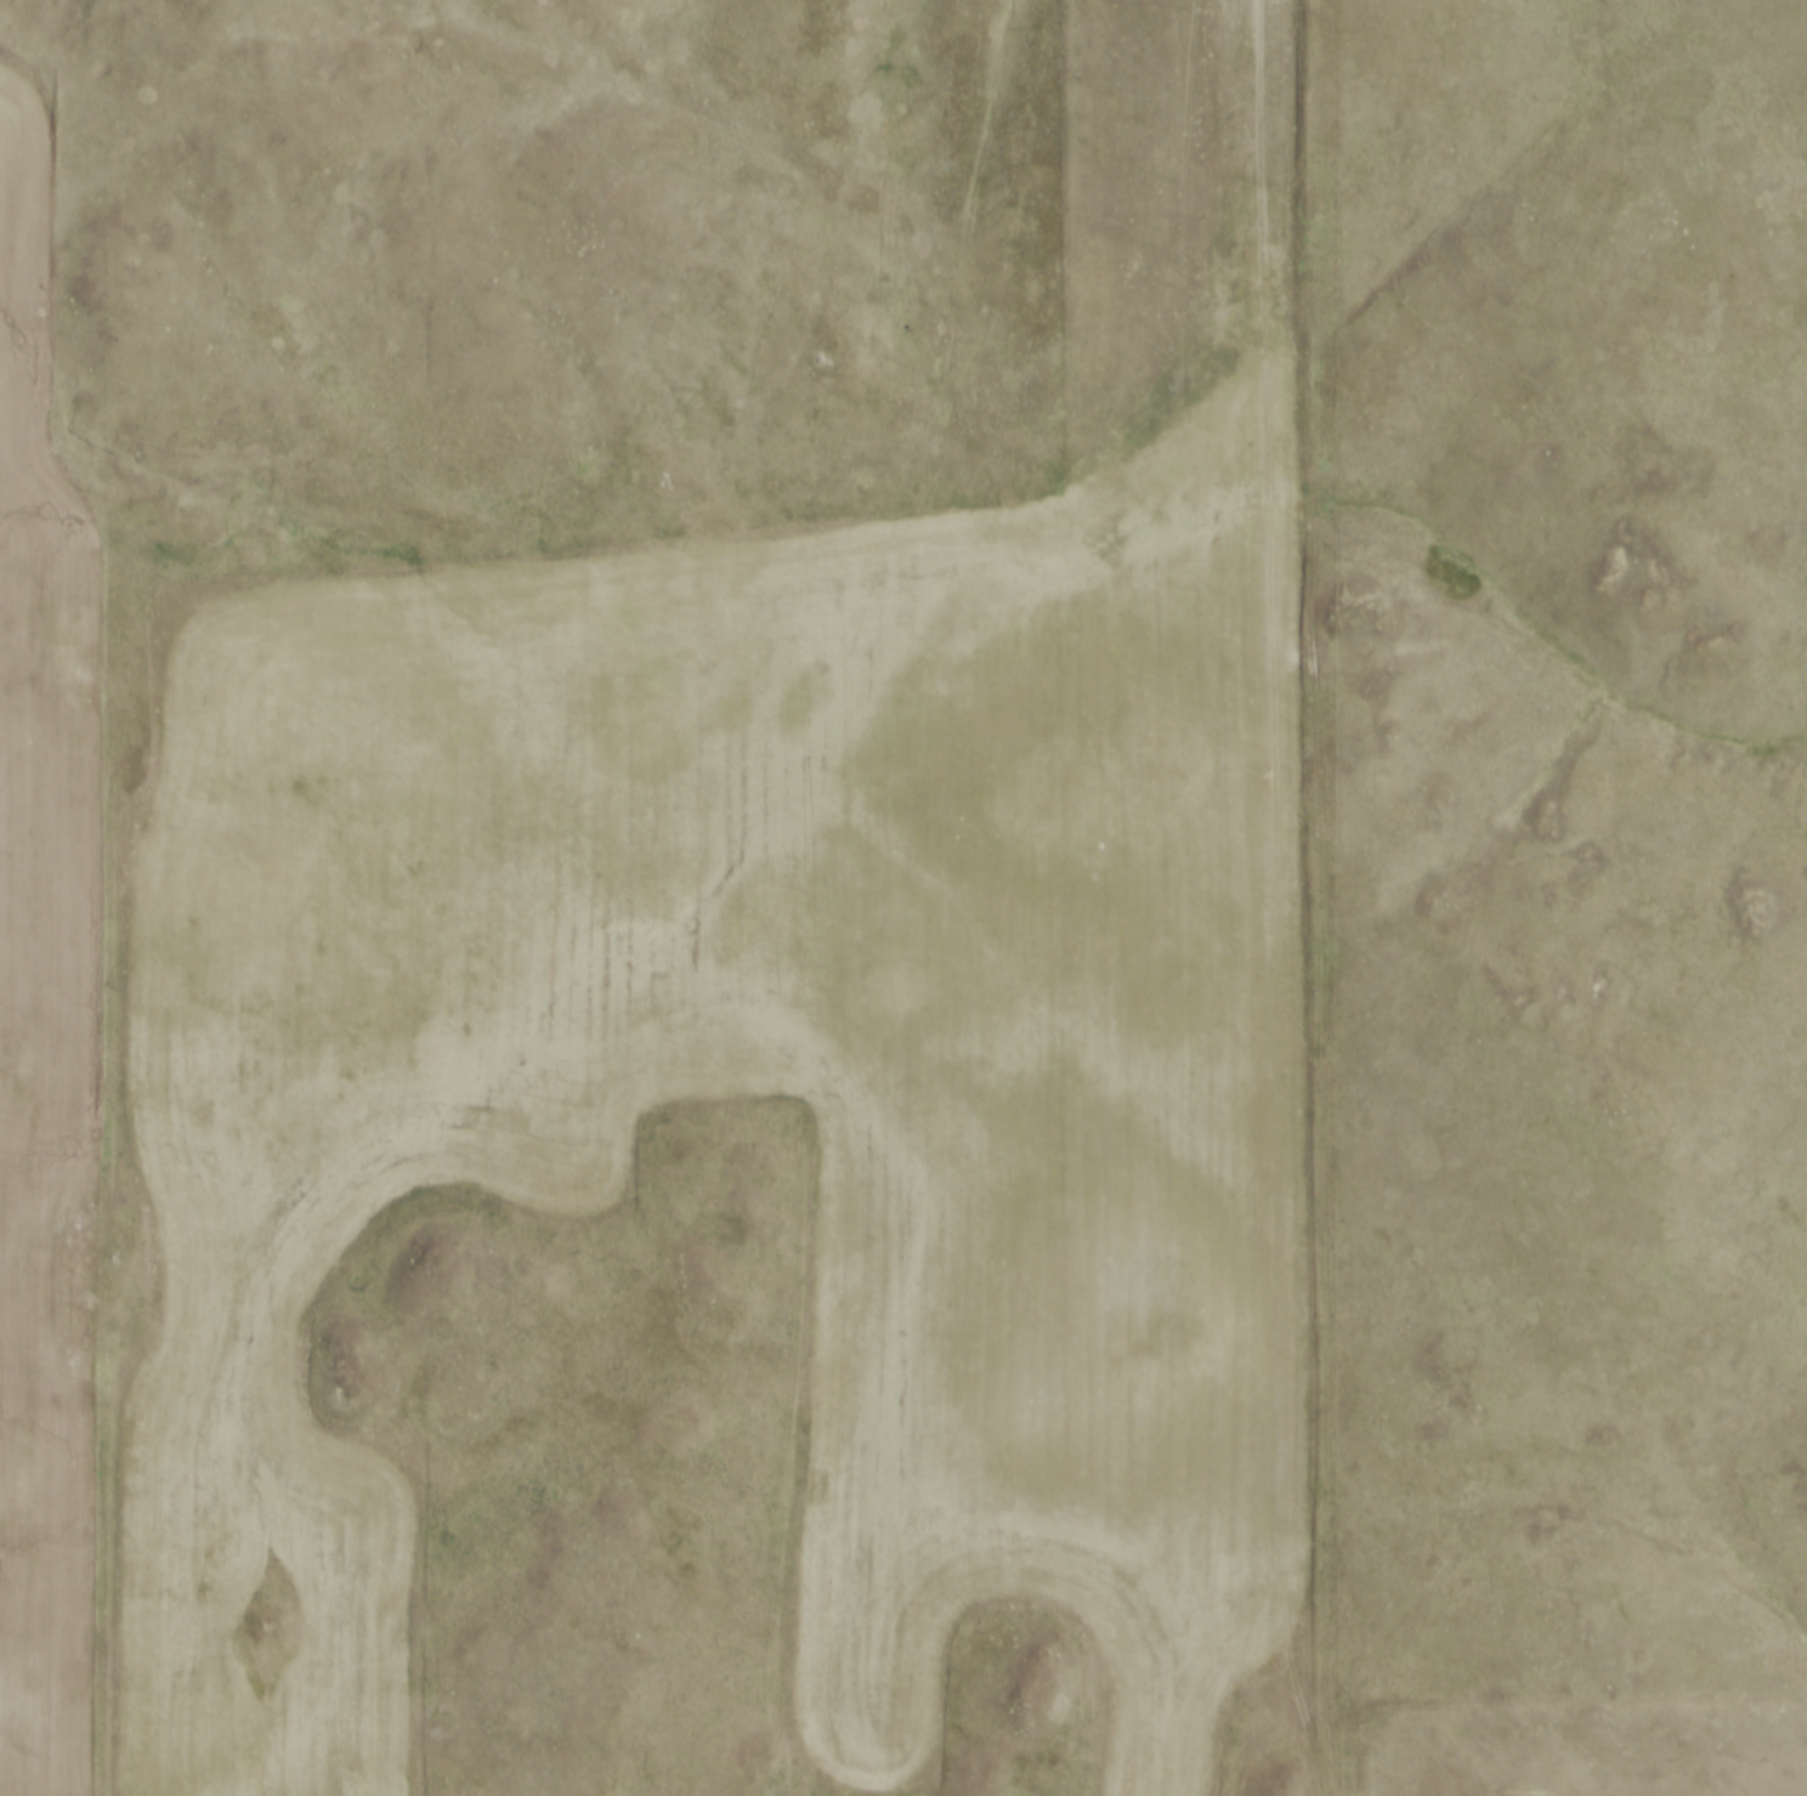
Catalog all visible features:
road: (1321, 894)

